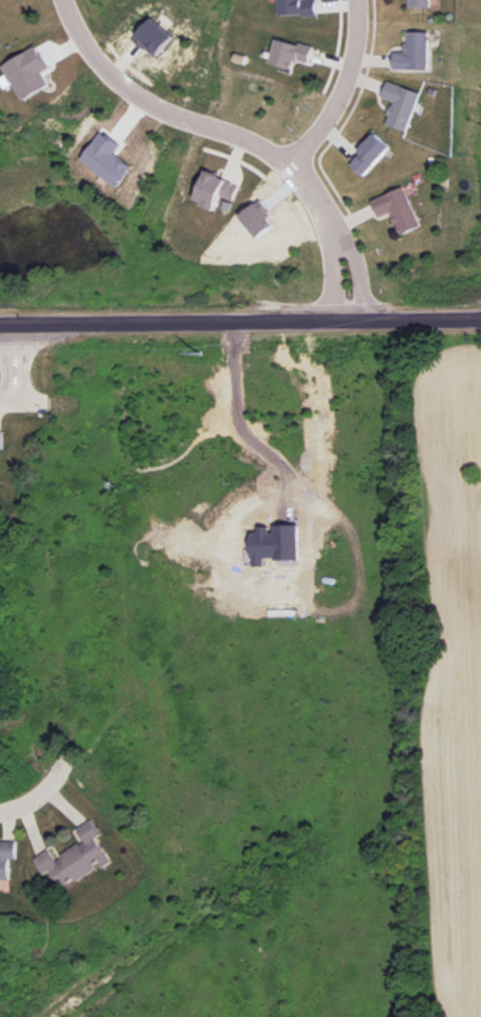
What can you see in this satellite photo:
building: (412, 4)
building: (296, 7)
building: (152, 37)
building: (407, 49)
building: (289, 53)
building: (27, 72)
road: (337, 86)
building: (392, 102)
road: (201, 120)
building: (363, 150)
building: (207, 190)
building: (391, 208)
road: (359, 279)
road: (331, 280)
road: (240, 322)
road: (3, 363)
road: (22, 363)
road: (6, 402)
road: (236, 418)
building: (1, 440)
crop: (452, 666)
road: (39, 791)
building: (83, 842)
building: (5, 852)
building: (50, 864)

